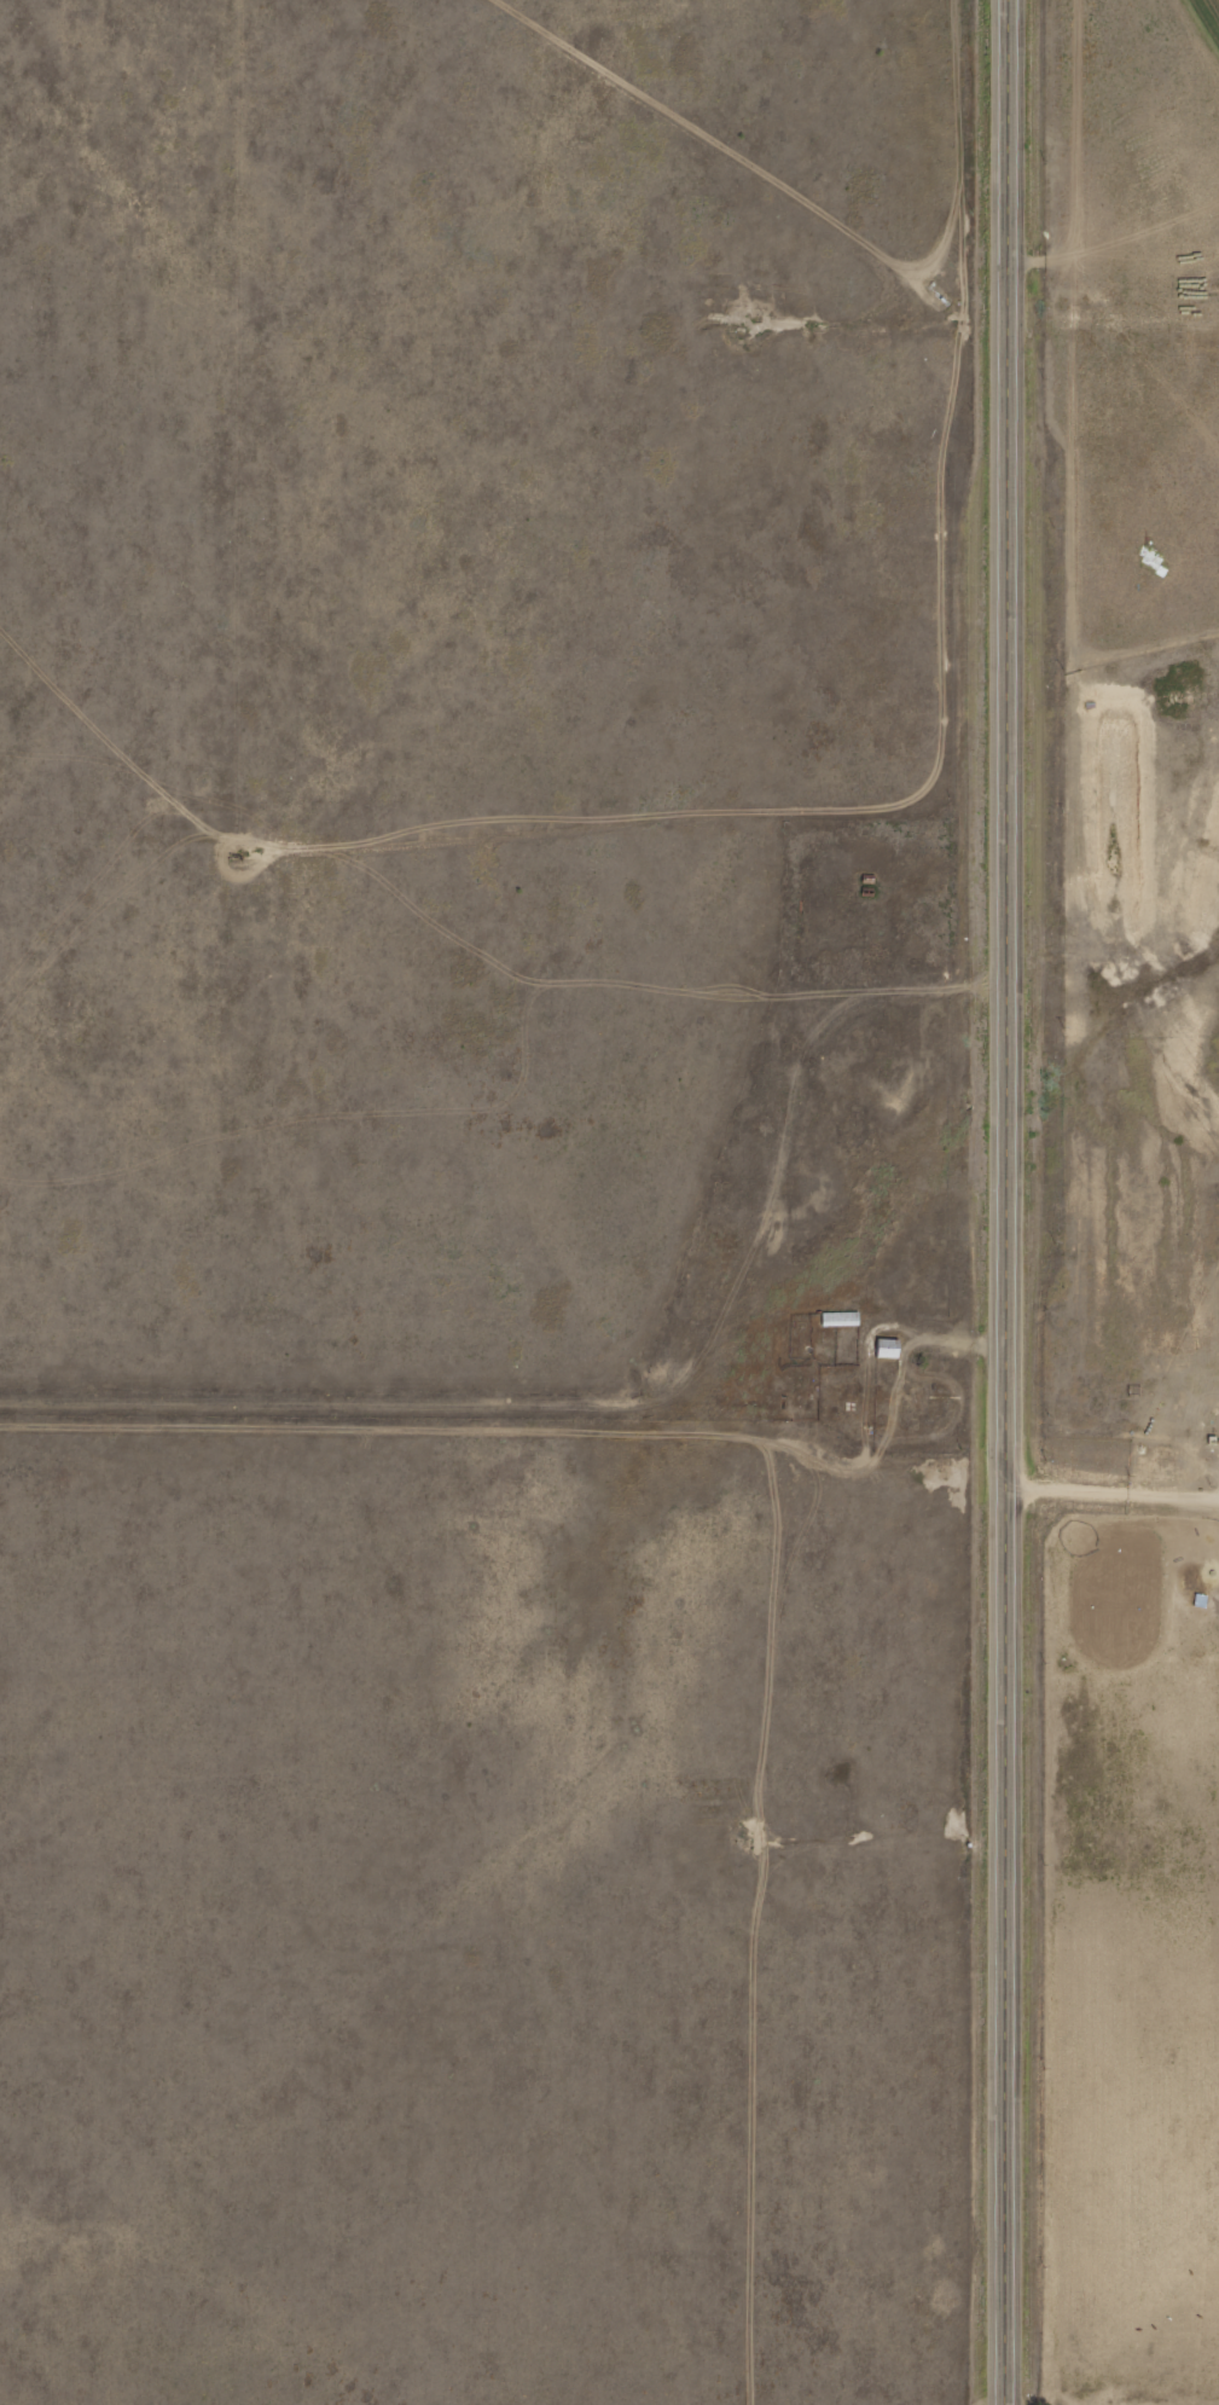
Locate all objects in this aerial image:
road: (1021, 1201)
building: (842, 1319)
building: (890, 1348)

